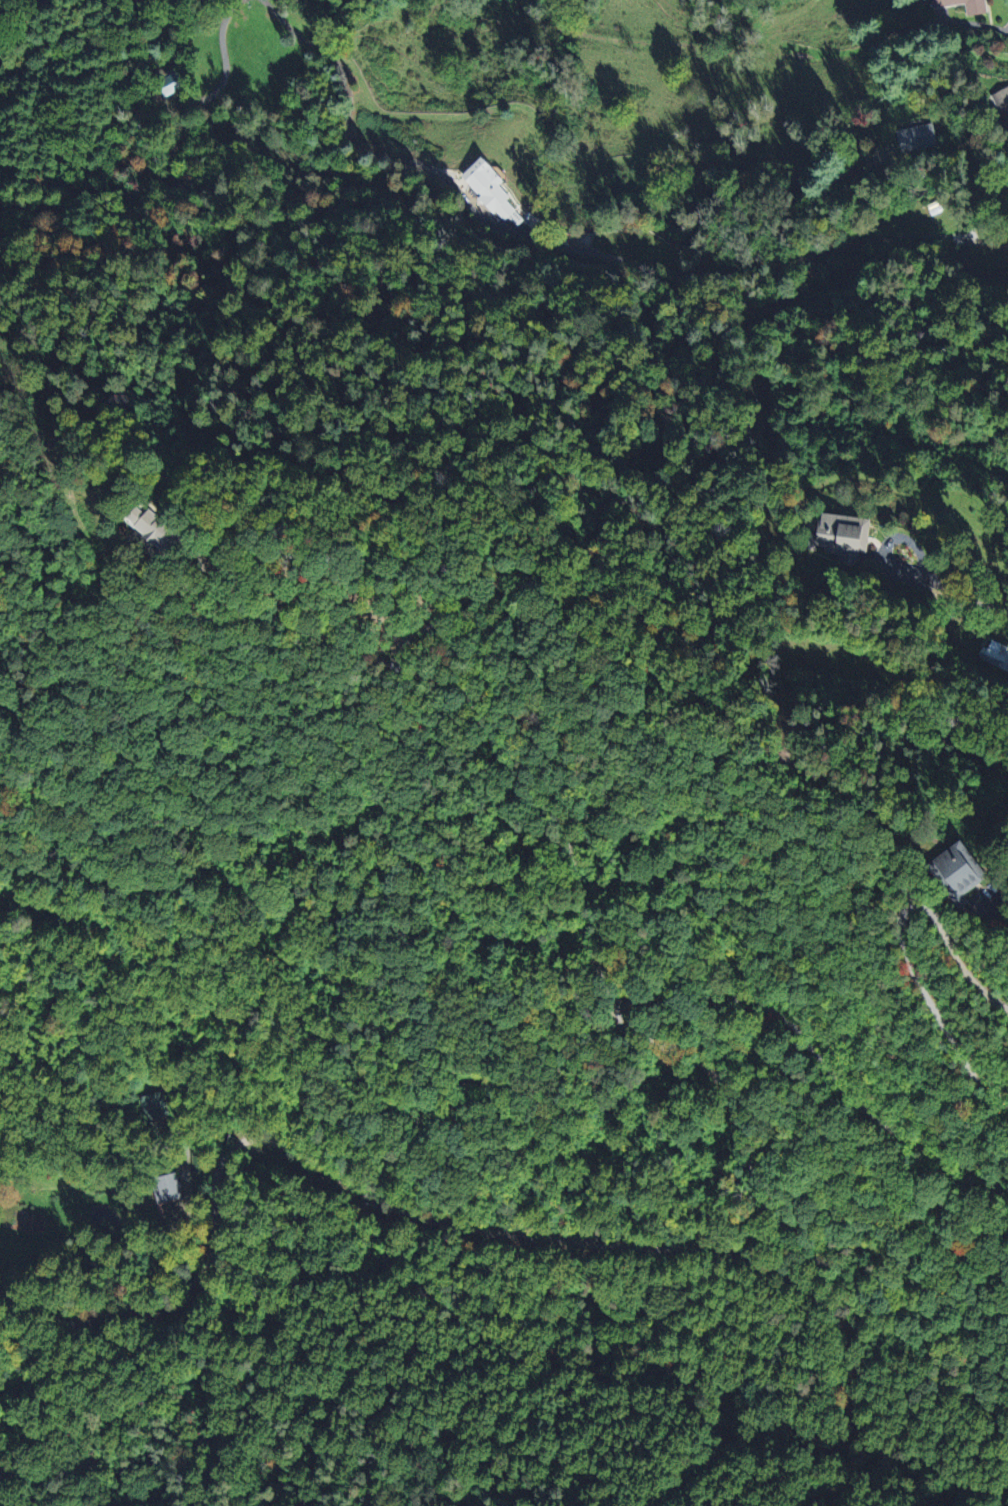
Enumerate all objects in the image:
building: (973, 10)
road: (958, 36)
building: (168, 84)
building: (1001, 103)
building: (913, 138)
building: (486, 190)
road: (974, 242)
building: (176, 529)
building: (837, 536)
road: (887, 540)
road: (363, 564)
road: (963, 595)
building: (994, 655)
road: (944, 733)
road: (509, 764)
building: (952, 871)
road: (998, 898)
road: (998, 913)
road: (900, 947)
road: (821, 1064)
building: (152, 1104)
building: (167, 1187)
road: (555, 1236)
road: (813, 1447)

